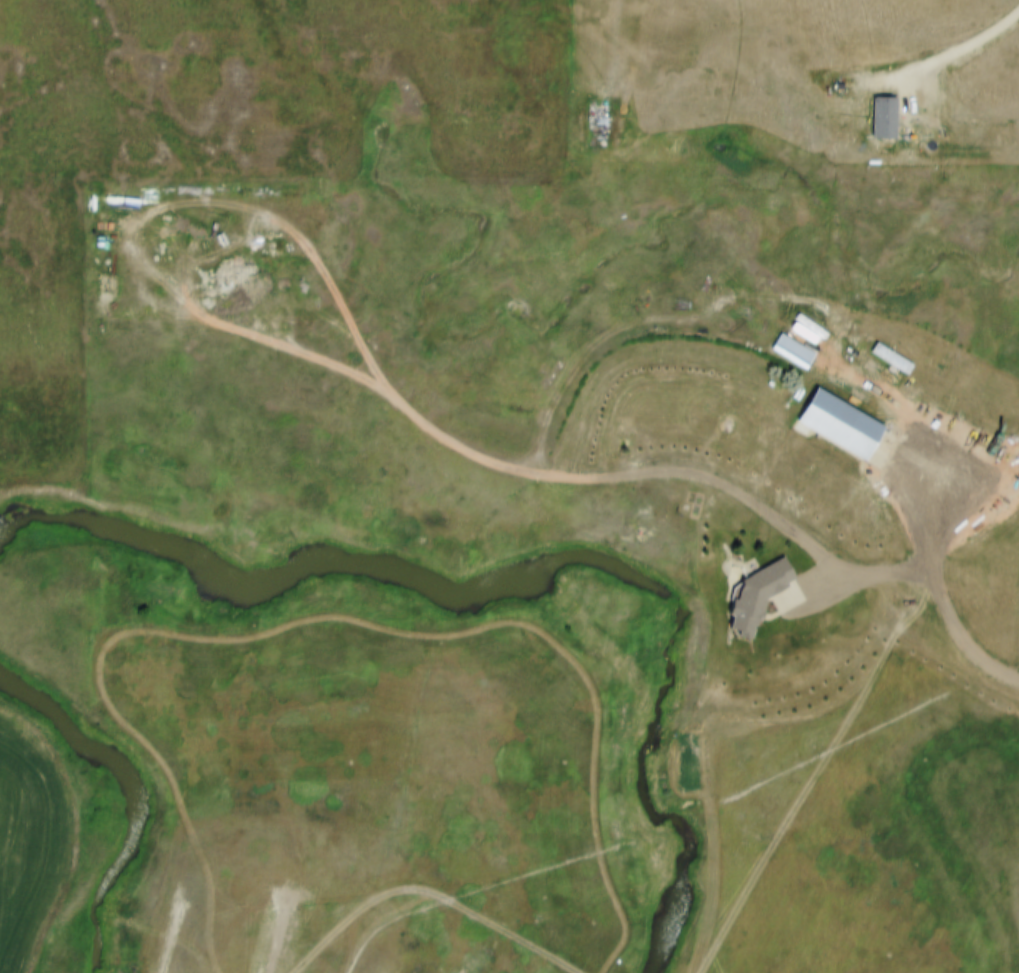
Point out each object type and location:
building: (830, 414)

